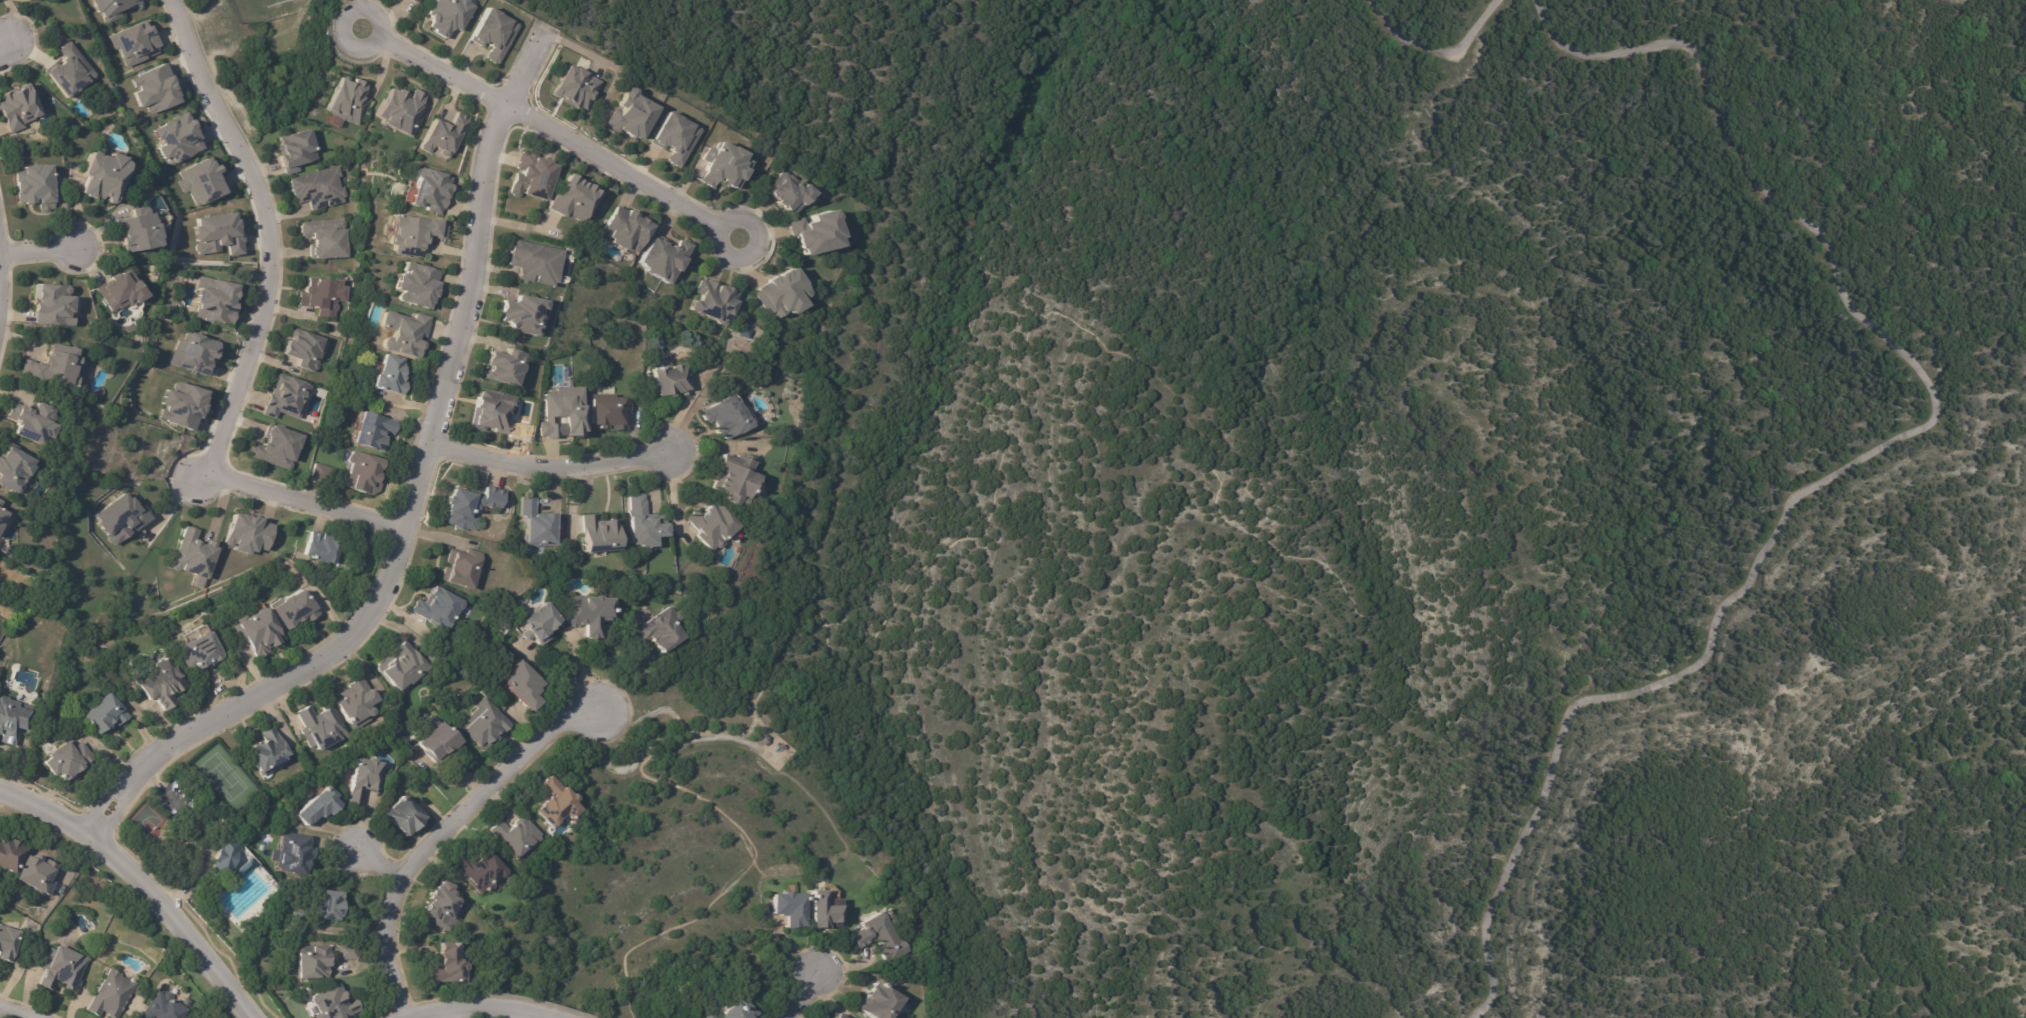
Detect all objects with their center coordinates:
building: (413, 1)
building: (113, 8)
building: (449, 15)
road: (340, 16)
building: (494, 32)
building: (135, 44)
road: (10, 46)
building: (70, 71)
building: (569, 87)
building: (155, 88)
building: (349, 101)
building: (20, 107)
building: (400, 112)
building: (629, 115)
road: (548, 130)
building: (444, 134)
building: (672, 137)
building: (179, 139)
building: (300, 150)
building: (722, 167)
building: (106, 174)
building: (529, 177)
building: (203, 181)
building: (39, 186)
building: (319, 189)
building: (430, 189)
building: (788, 194)
building: (570, 199)
building: (142, 230)
building: (625, 230)
building: (815, 231)
building: (415, 233)
building: (219, 234)
building: (325, 239)
road: (755, 248)
road: (39, 251)
building: (661, 259)
building: (531, 263)
building: (415, 284)
building: (124, 291)
building: (777, 294)
building: (323, 295)
building: (217, 301)
building: (712, 303)
building: (55, 305)
building: (523, 315)
building: (406, 332)
building: (741, 333)
road: (255, 335)
building: (307, 349)
building: (196, 351)
building: (56, 366)
building: (501, 366)
building: (391, 375)
building: (669, 382)
building: (288, 397)
building: (183, 404)
road: (686, 410)
building: (609, 411)
building: (562, 413)
building: (497, 417)
building: (730, 418)
building: (34, 421)
building: (374, 430)
building: (281, 447)
road: (549, 465)
building: (16, 469)
building: (327, 473)
building: (365, 473)
building: (737, 478)
road: (414, 489)
building: (0, 501)
building: (473, 506)
building: (3, 517)
building: (118, 518)
building: (644, 525)
building: (538, 526)
building: (715, 527)
building: (248, 533)
building: (604, 535)
building: (322, 548)
building: (197, 557)
building: (465, 569)
building: (294, 608)
building: (441, 609)
building: (594, 615)
building: (543, 625)
building: (259, 630)
building: (663, 632)
building: (199, 647)
building: (440, 661)
road: (613, 661)
building: (403, 669)
road: (583, 671)
building: (163, 684)
building: (525, 687)
building: (356, 703)
building: (106, 714)
building: (12, 721)
building: (488, 726)
building: (324, 729)
building: (760, 739)
building: (440, 744)
building: (272, 753)
building: (69, 760)
building: (364, 779)
building: (553, 802)
building: (320, 806)
building: (405, 816)
road: (445, 829)
building: (515, 836)
building: (11, 854)
building: (298, 854)
building: (227, 858)
road: (384, 860)
building: (247, 870)
building: (480, 870)
building: (37, 874)
road: (150, 875)
building: (439, 904)
building: (333, 907)
building: (788, 907)
building: (824, 910)
building: (300, 923)
building: (878, 937)
building: (8, 943)
building: (321, 961)
building: (443, 964)
building: (63, 968)
building: (305, 993)
road: (800, 994)
building: (112, 995)
road: (491, 1000)
building: (877, 1003)
building: (336, 1005)
road: (31, 1006)
building: (164, 1007)
building: (733, 1011)
building: (832, 1016)
building: (707, 1017)

